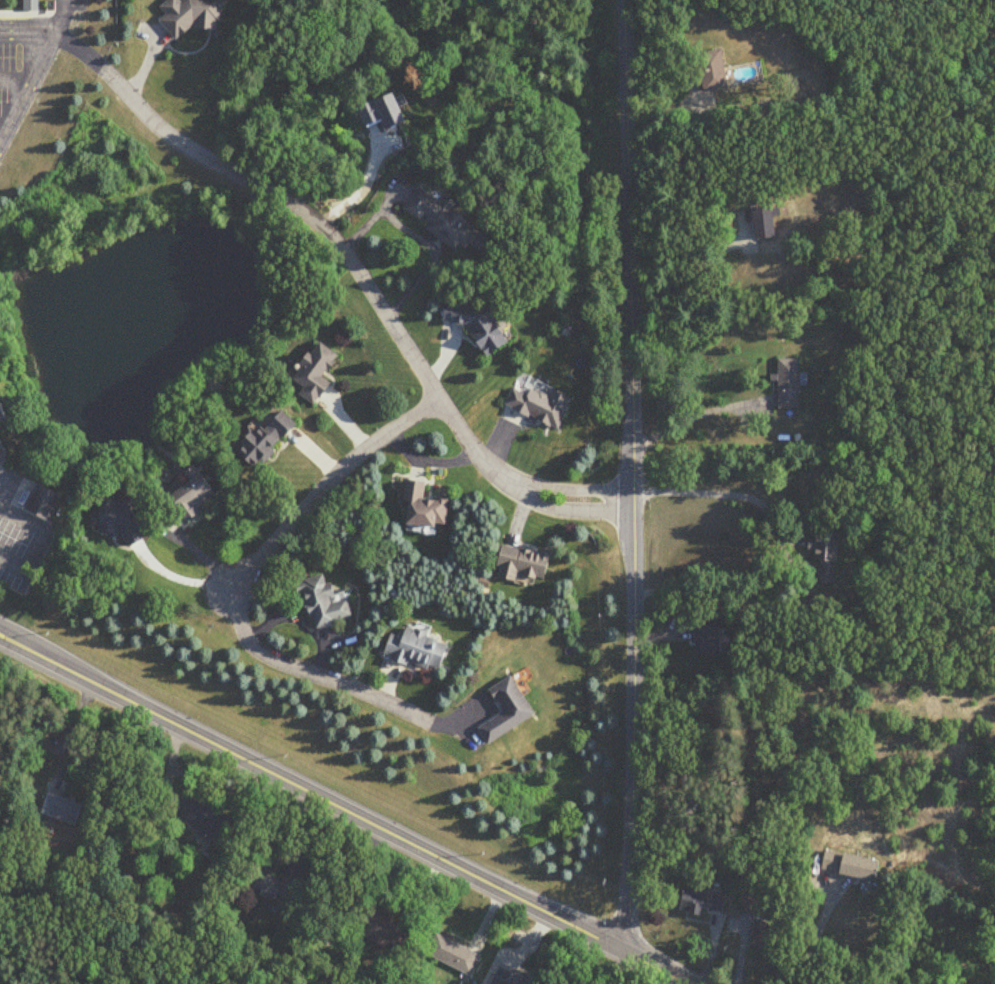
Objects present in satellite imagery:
building: (31, 5)
building: (195, 16)
road: (56, 17)
road: (27, 26)
building: (714, 72)
road: (15, 76)
road: (26, 82)
road: (2, 121)
road: (357, 192)
building: (448, 222)
building: (767, 224)
road: (695, 269)
road: (355, 271)
building: (479, 326)
building: (317, 374)
building: (790, 385)
building: (539, 408)
building: (4, 411)
road: (688, 418)
building: (269, 439)
building: (2, 449)
road: (630, 477)
road: (5, 480)
road: (326, 490)
road: (710, 490)
building: (194, 494)
building: (44, 504)
building: (427, 509)
road: (35, 535)
building: (829, 557)
building: (526, 566)
building: (326, 604)
building: (419, 651)
road: (307, 671)
building: (509, 712)
road: (70, 729)
road: (340, 809)
building: (63, 810)
building: (203, 819)
building: (852, 867)
building: (270, 887)
building: (701, 904)
building: (749, 906)
building: (765, 937)
road: (816, 943)
building: (454, 955)
road: (621, 969)
building: (512, 978)

